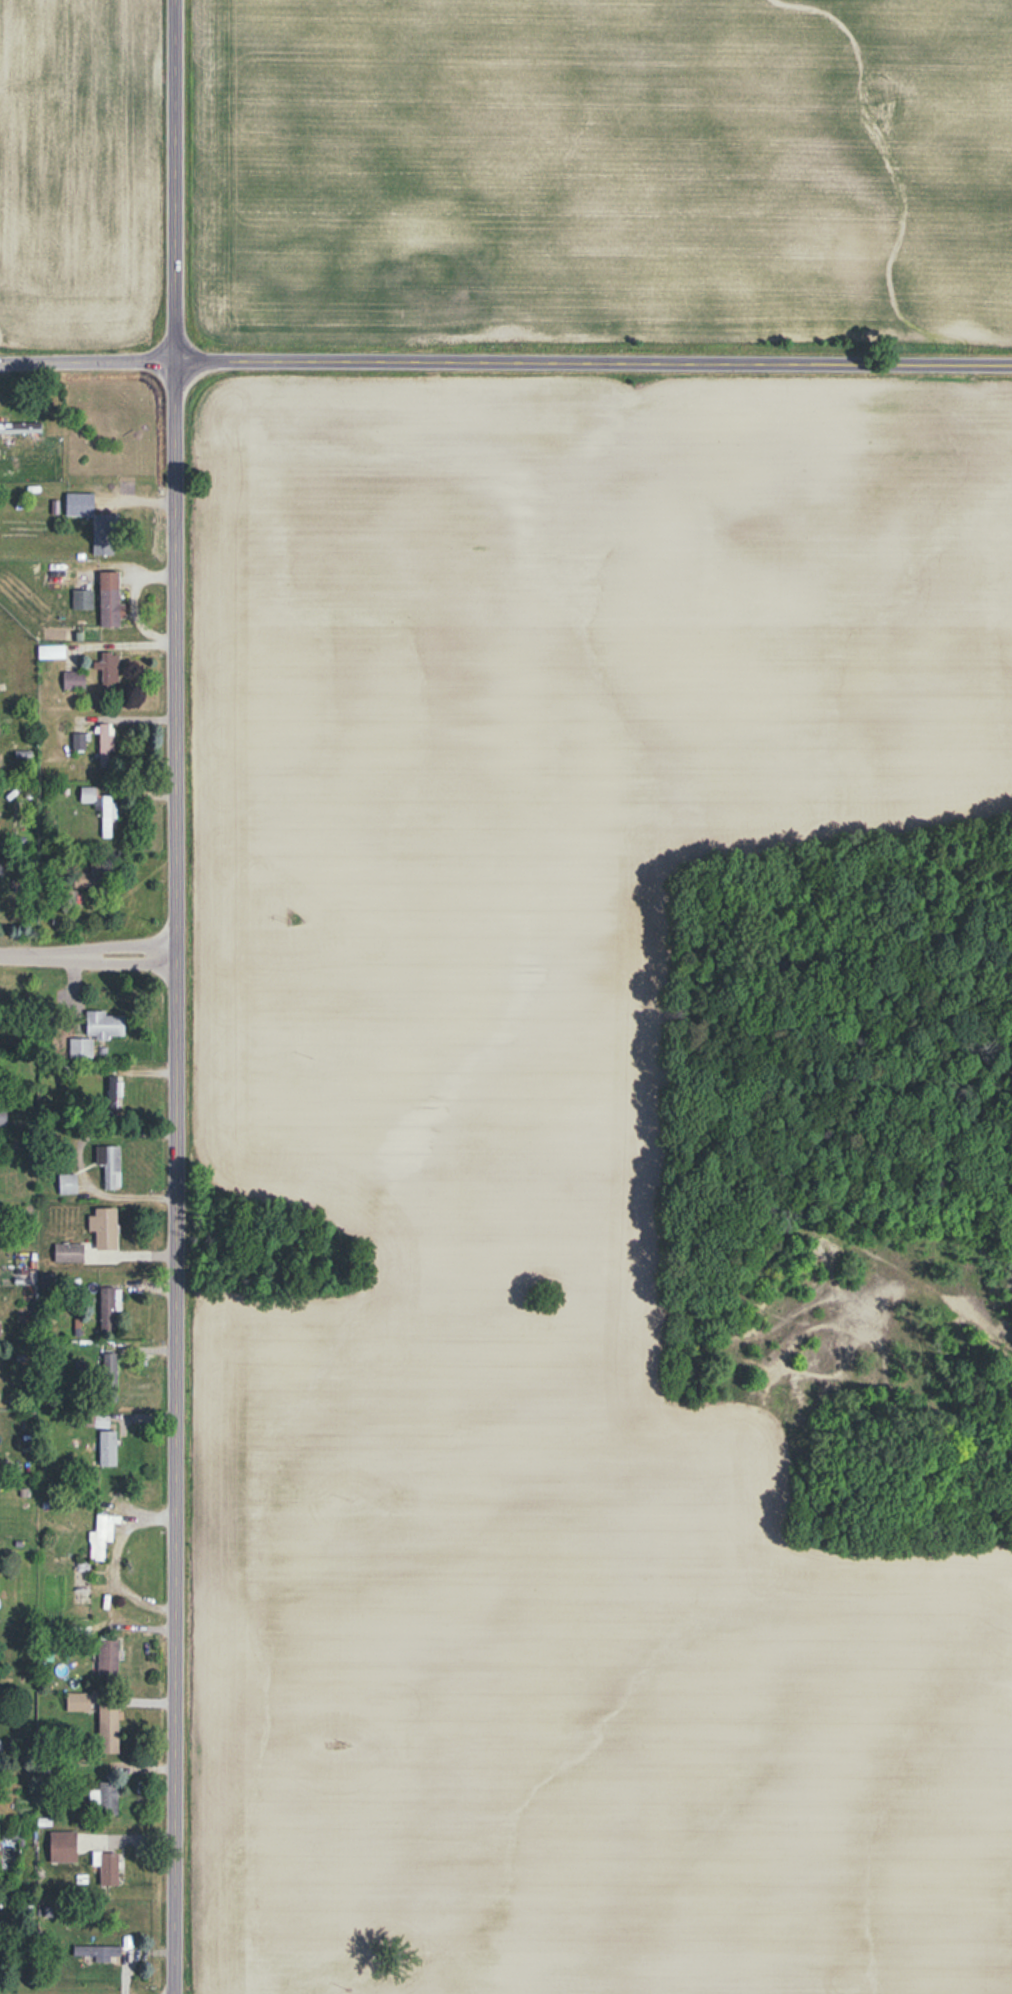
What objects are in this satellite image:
road: (86, 359)
road: (592, 359)
building: (16, 428)
building: (95, 521)
building: (83, 599)
building: (110, 599)
building: (109, 670)
building: (74, 680)
building: (106, 745)
building: (87, 795)
building: (106, 816)
building: (89, 878)
road: (86, 946)
road: (172, 996)
building: (102, 1024)
building: (3, 1116)
building: (110, 1165)
building: (105, 1227)
building: (68, 1252)
building: (108, 1308)
building: (0, 1329)
road: (586, 1334)
building: (93, 1420)
building: (108, 1448)
building: (102, 1535)
building: (108, 1660)
building: (81, 1702)
building: (109, 1729)
building: (104, 1798)
building: (63, 1846)
building: (109, 1869)
building: (99, 1952)

